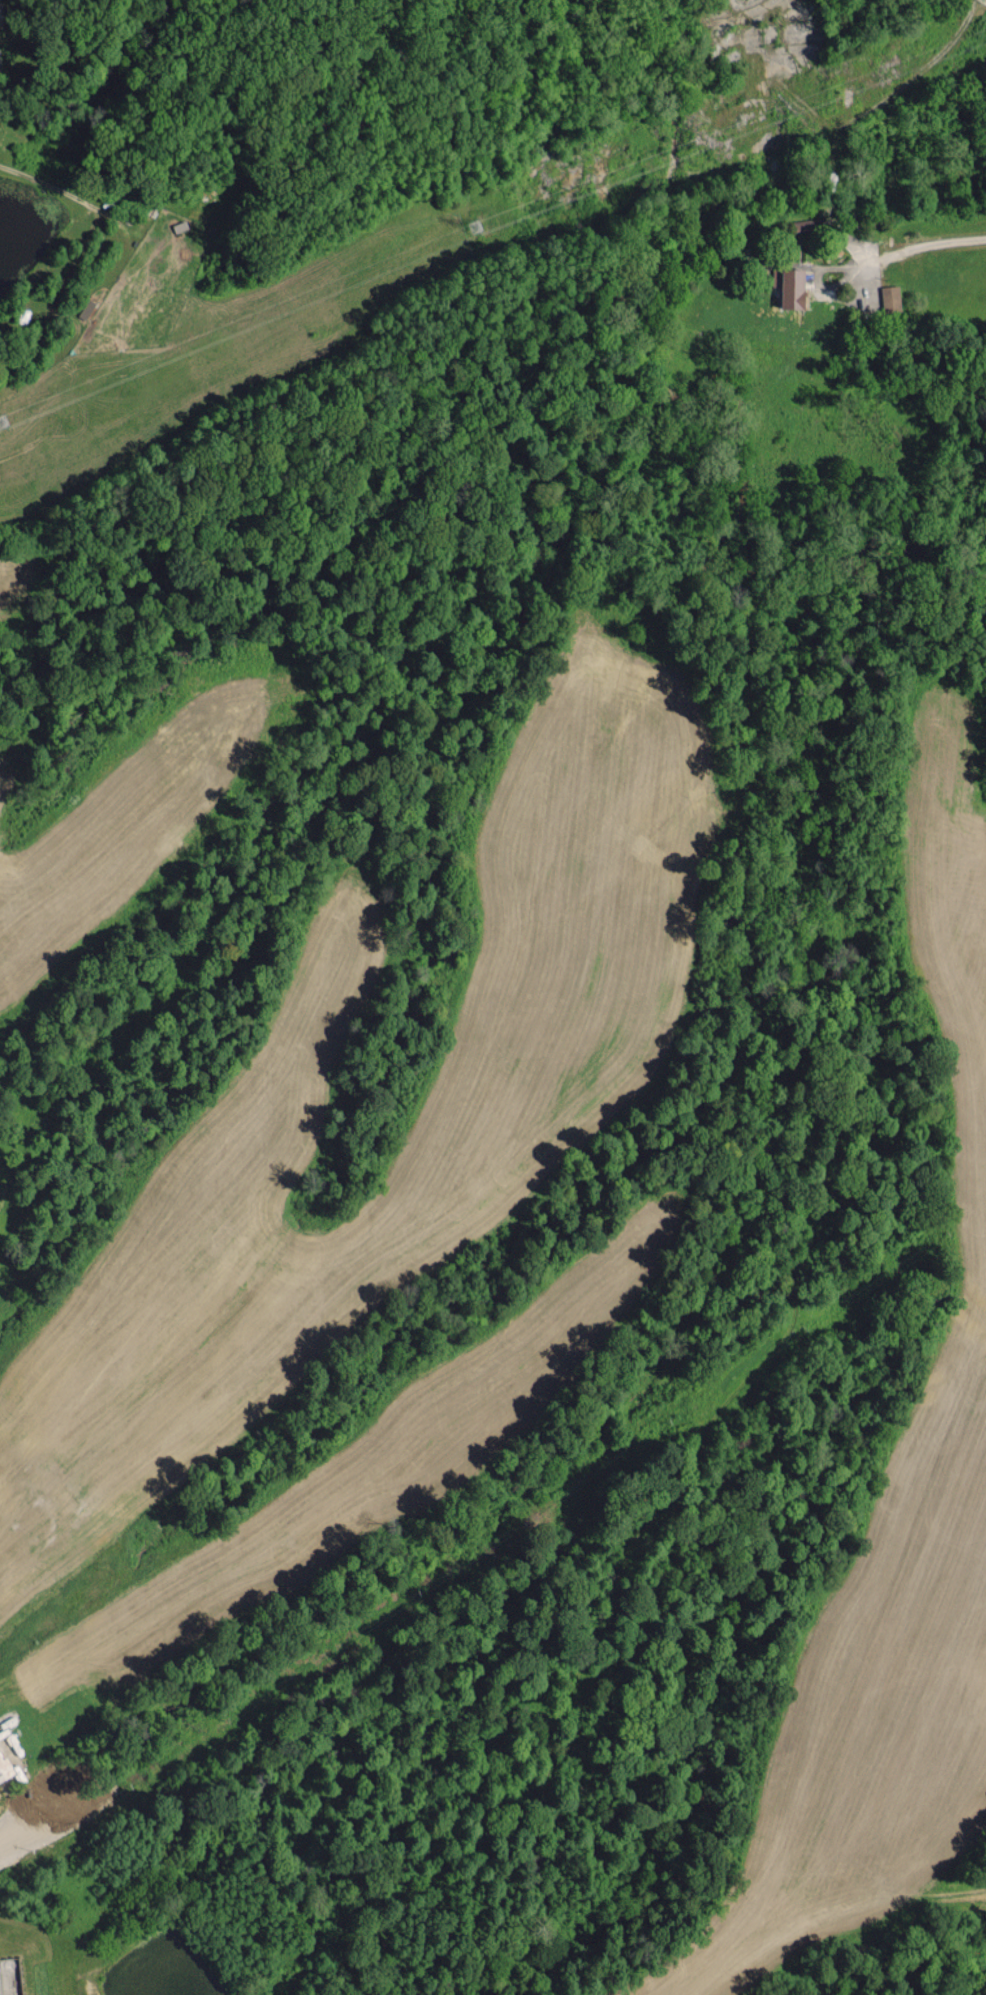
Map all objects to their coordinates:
building: (0, 55)
road: (872, 103)
road: (910, 247)
road: (864, 272)
building: (794, 286)
building: (890, 296)
building: (5, 1768)

